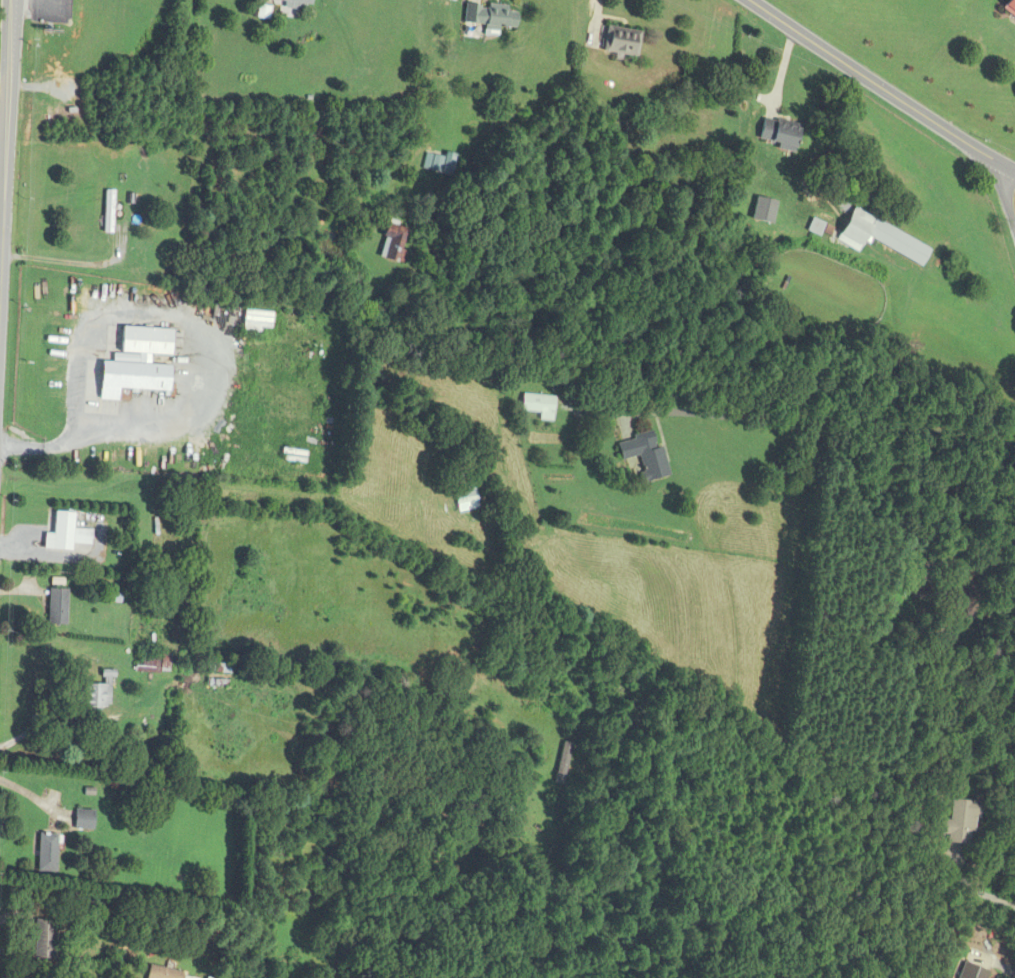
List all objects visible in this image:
road: (28, 1)
building: (294, 4)
building: (1008, 8)
building: (489, 17)
building: (617, 41)
road: (10, 73)
road: (875, 88)
building: (775, 134)
road: (3, 145)
building: (434, 164)
building: (760, 210)
building: (106, 211)
road: (3, 236)
building: (876, 236)
building: (389, 242)
road: (72, 262)
building: (129, 379)
building: (535, 406)
road: (818, 421)
road: (71, 446)
building: (642, 456)
building: (65, 535)
road: (987, 561)
building: (960, 602)
building: (55, 607)
building: (149, 662)
building: (216, 684)
building: (92, 696)
building: (81, 820)
building: (958, 822)
building: (44, 853)
road: (975, 890)
building: (41, 939)
road: (1005, 966)
building: (965, 972)
building: (159, 973)

